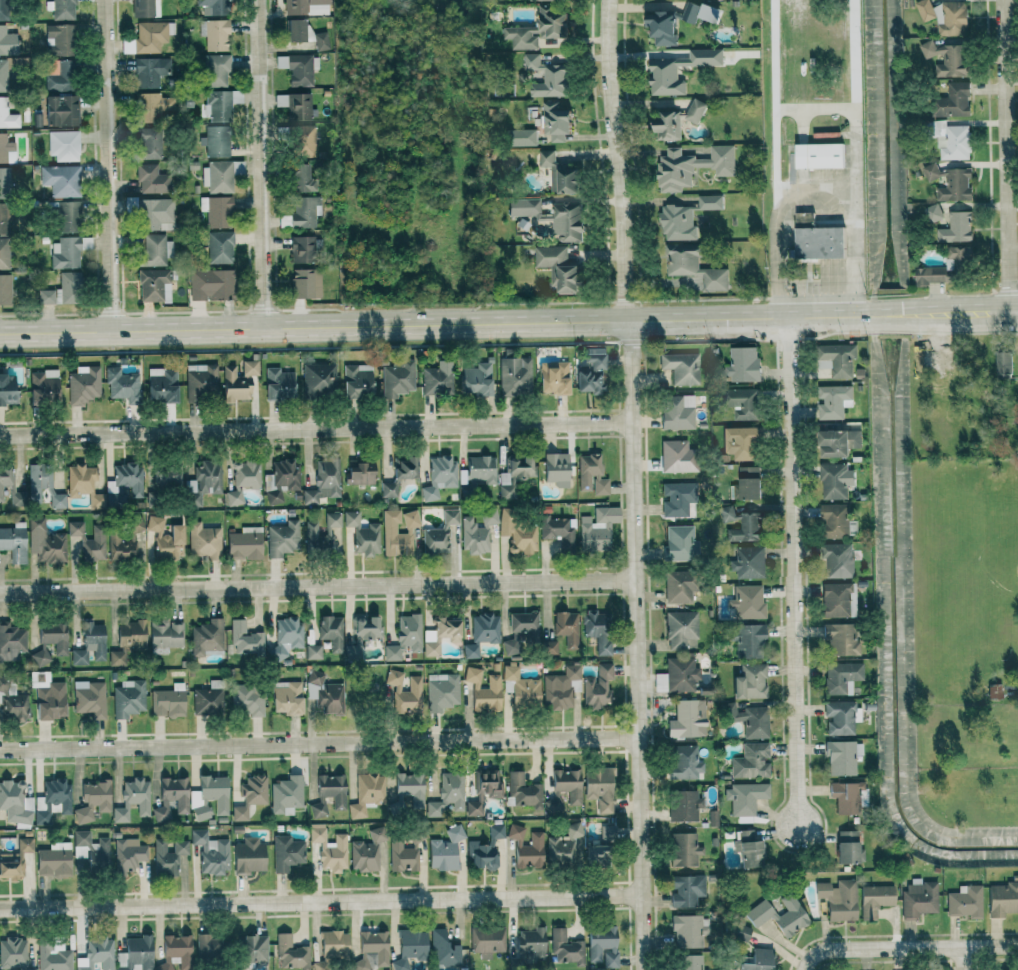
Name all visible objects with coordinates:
building: (548, 0)
building: (212, 6)
building: (305, 7)
building: (145, 8)
building: (60, 9)
building: (0, 10)
building: (700, 13)
building: (944, 16)
building: (661, 27)
building: (537, 29)
building: (295, 30)
building: (214, 34)
building: (58, 40)
building: (320, 41)
building: (946, 58)
building: (296, 69)
building: (215, 70)
building: (149, 72)
building: (662, 73)
building: (533, 75)
building: (545, 77)
road: (853, 99)
building: (951, 101)
building: (217, 105)
building: (151, 106)
road: (774, 109)
building: (694, 111)
building: (57, 112)
building: (7, 115)
building: (554, 121)
building: (666, 125)
building: (522, 137)
building: (300, 138)
building: (214, 141)
building: (950, 141)
building: (148, 142)
building: (62, 146)
building: (6, 150)
building: (818, 155)
road: (1003, 156)
road: (617, 159)
road: (261, 164)
road: (109, 165)
building: (691, 166)
building: (558, 174)
building: (217, 177)
building: (300, 177)
building: (151, 179)
building: (60, 180)
building: (949, 182)
road: (816, 190)
building: (709, 202)
building: (896, 207)
building: (523, 208)
building: (216, 211)
building: (303, 212)
building: (932, 212)
building: (155, 214)
building: (66, 217)
building: (803, 218)
building: (5, 219)
building: (566, 221)
building: (677, 223)
building: (955, 228)
building: (819, 242)
building: (219, 247)
building: (301, 249)
building: (152, 251)
building: (67, 252)
building: (4, 254)
building: (959, 256)
building: (693, 266)
building: (558, 268)
building: (933, 275)
building: (304, 283)
building: (153, 285)
building: (209, 285)
building: (5, 289)
building: (60, 291)
road: (508, 322)
building: (836, 359)
building: (1002, 362)
building: (742, 364)
building: (249, 368)
building: (680, 368)
building: (590, 372)
building: (514, 376)
building: (396, 378)
building: (437, 378)
building: (552, 378)
building: (200, 379)
building: (318, 379)
building: (476, 379)
building: (356, 381)
building: (82, 385)
building: (121, 385)
building: (160, 385)
building: (233, 385)
building: (277, 385)
building: (43, 386)
building: (1017, 388)
building: (6, 390)
building: (833, 401)
building: (741, 403)
building: (677, 412)
road: (316, 430)
building: (740, 443)
building: (837, 443)
building: (676, 456)
building: (520, 467)
building: (404, 468)
building: (481, 469)
building: (556, 469)
building: (359, 474)
building: (591, 474)
building: (439, 475)
building: (167, 477)
building: (280, 478)
building: (80, 480)
building: (835, 480)
building: (202, 481)
building: (242, 481)
building: (323, 482)
building: (748, 482)
building: (42, 485)
building: (124, 485)
building: (388, 489)
building: (676, 499)
building: (449, 517)
building: (834, 521)
building: (154, 523)
building: (740, 523)
building: (74, 528)
building: (596, 528)
building: (388, 530)
building: (556, 531)
building: (477, 533)
building: (517, 534)
building: (324, 535)
building: (362, 535)
building: (282, 539)
building: (125, 540)
building: (435, 540)
building: (14, 542)
building: (44, 542)
building: (170, 543)
building: (679, 543)
building: (244, 544)
building: (94, 545)
building: (836, 560)
building: (747, 563)
road: (317, 584)
road: (796, 585)
building: (678, 587)
building: (837, 600)
building: (747, 602)
building: (484, 628)
building: (566, 628)
building: (597, 630)
building: (681, 630)
building: (331, 632)
building: (520, 632)
building: (130, 634)
building: (362, 634)
building: (441, 634)
building: (53, 636)
building: (165, 636)
building: (206, 637)
building: (285, 637)
building: (404, 638)
building: (94, 639)
building: (840, 639)
building: (243, 640)
building: (747, 641)
building: (11, 642)
road: (635, 645)
building: (548, 648)
building: (470, 651)
building: (313, 652)
building: (39, 657)
building: (117, 657)
building: (78, 658)
building: (676, 676)
building: (840, 678)
building: (749, 682)
building: (597, 687)
building: (520, 688)
building: (483, 690)
building: (994, 691)
building: (441, 692)
building: (324, 693)
building: (404, 693)
building: (48, 697)
building: (89, 698)
building: (128, 698)
building: (286, 698)
building: (208, 699)
building: (246, 700)
building: (168, 701)
building: (11, 703)
building: (840, 718)
building: (687, 719)
building: (746, 720)
road: (318, 743)
building: (841, 758)
building: (750, 761)
building: (684, 762)
building: (410, 788)
building: (599, 788)
building: (564, 790)
building: (523, 791)
building: (483, 792)
building: (366, 793)
building: (328, 794)
building: (285, 795)
building: (53, 796)
building: (249, 796)
building: (447, 796)
building: (209, 797)
building: (845, 797)
building: (171, 798)
building: (744, 798)
building: (132, 799)
building: (92, 801)
building: (15, 802)
building: (684, 806)
building: (416, 839)
building: (563, 845)
building: (526, 847)
building: (600, 847)
building: (328, 848)
building: (848, 848)
building: (485, 849)
building: (747, 849)
building: (445, 850)
building: (683, 850)
building: (366, 851)
building: (89, 853)
building: (210, 853)
building: (285, 853)
building: (128, 855)
building: (167, 856)
building: (248, 856)
building: (401, 857)
building: (12, 863)
building: (52, 863)
building: (685, 890)
building: (918, 898)
building: (1002, 898)
building: (839, 899)
building: (874, 899)
road: (320, 900)
building: (964, 901)
building: (759, 914)
building: (739, 930)
building: (686, 931)
building: (487, 941)
building: (333, 945)
building: (531, 945)
building: (602, 945)
road: (992, 945)
building: (206, 946)
building: (409, 947)
building: (251, 948)
building: (566, 948)
road: (880, 948)
building: (443, 949)
building: (173, 950)
building: (371, 951)
building: (290, 953)
building: (13, 954)
building: (96, 954)
building: (135, 954)
building: (53, 956)
road: (967, 958)
building: (758, 960)
building: (690, 962)

